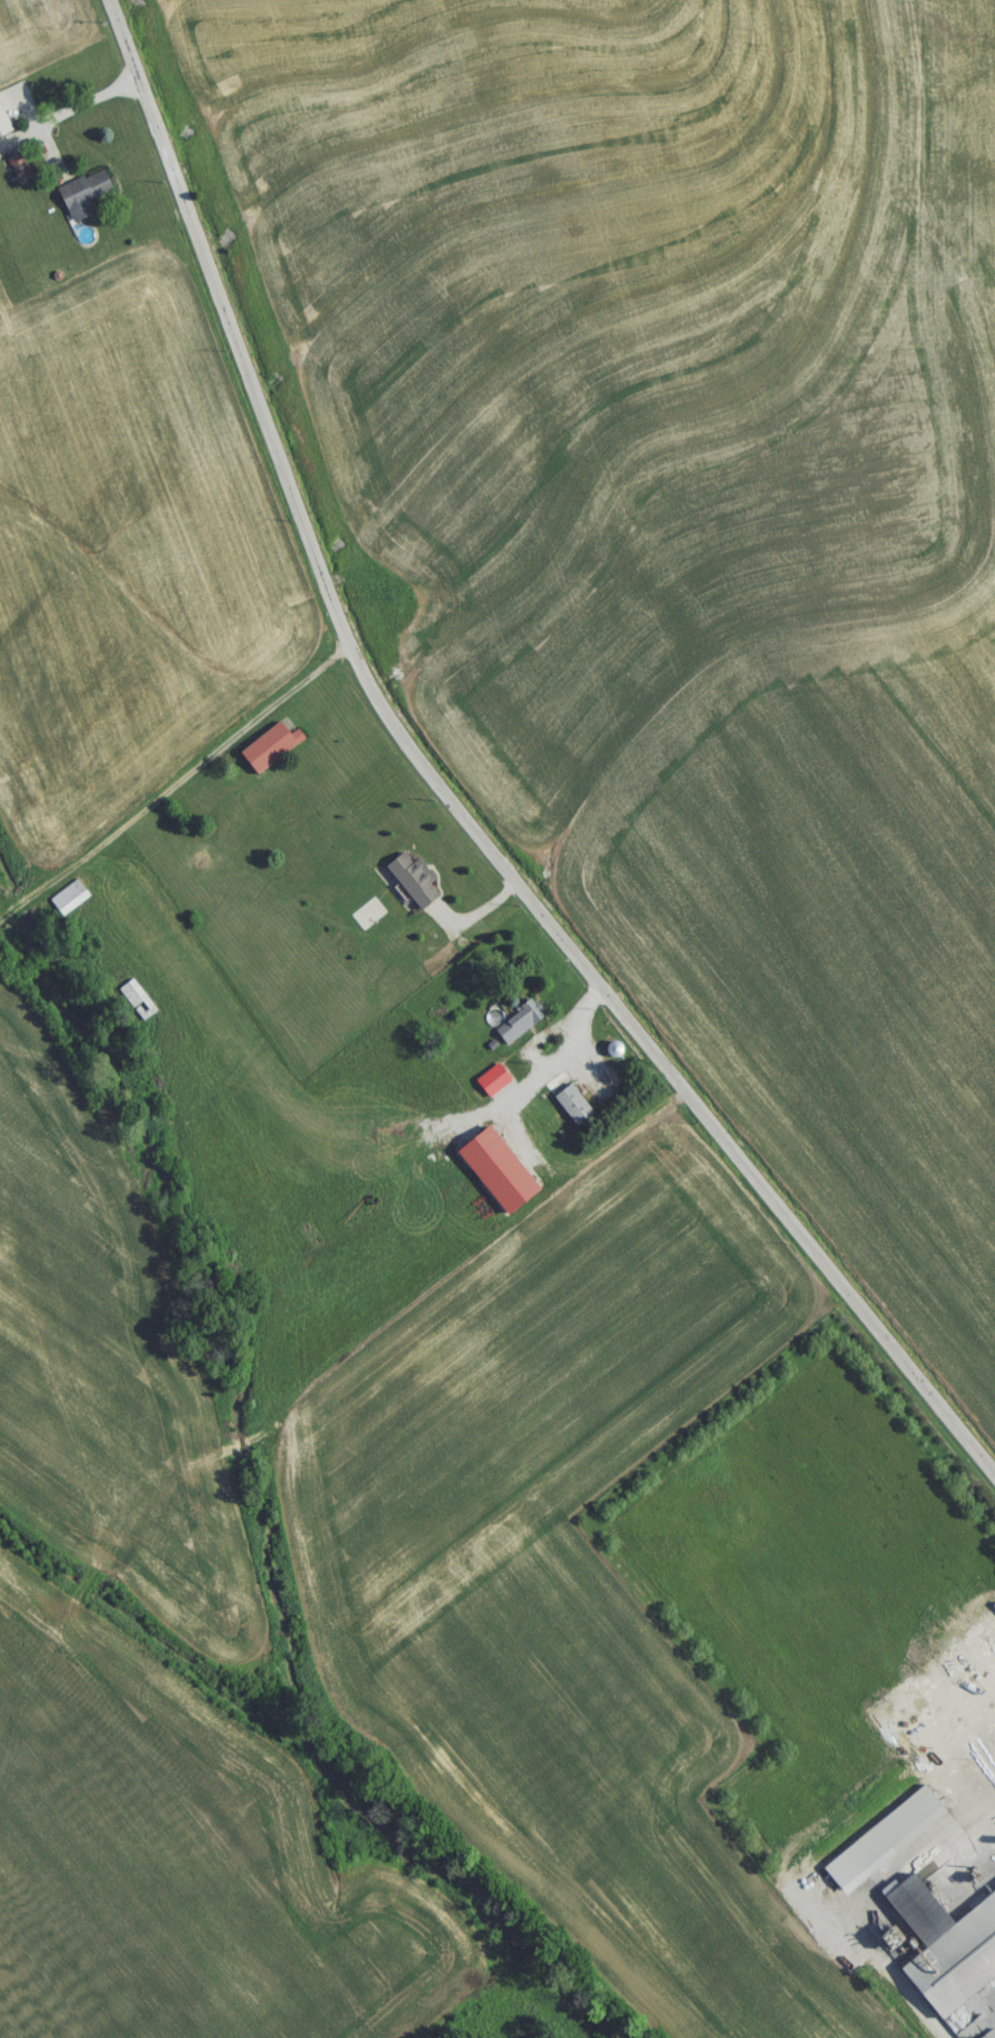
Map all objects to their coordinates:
road: (63, 119)
building: (16, 173)
building: (82, 201)
building: (266, 754)
road: (446, 799)
building: (410, 887)
building: (68, 904)
building: (136, 1006)
building: (520, 1027)
building: (490, 1087)
building: (570, 1110)
building: (492, 1175)
road: (983, 1824)
building: (881, 1845)
road: (993, 2002)

